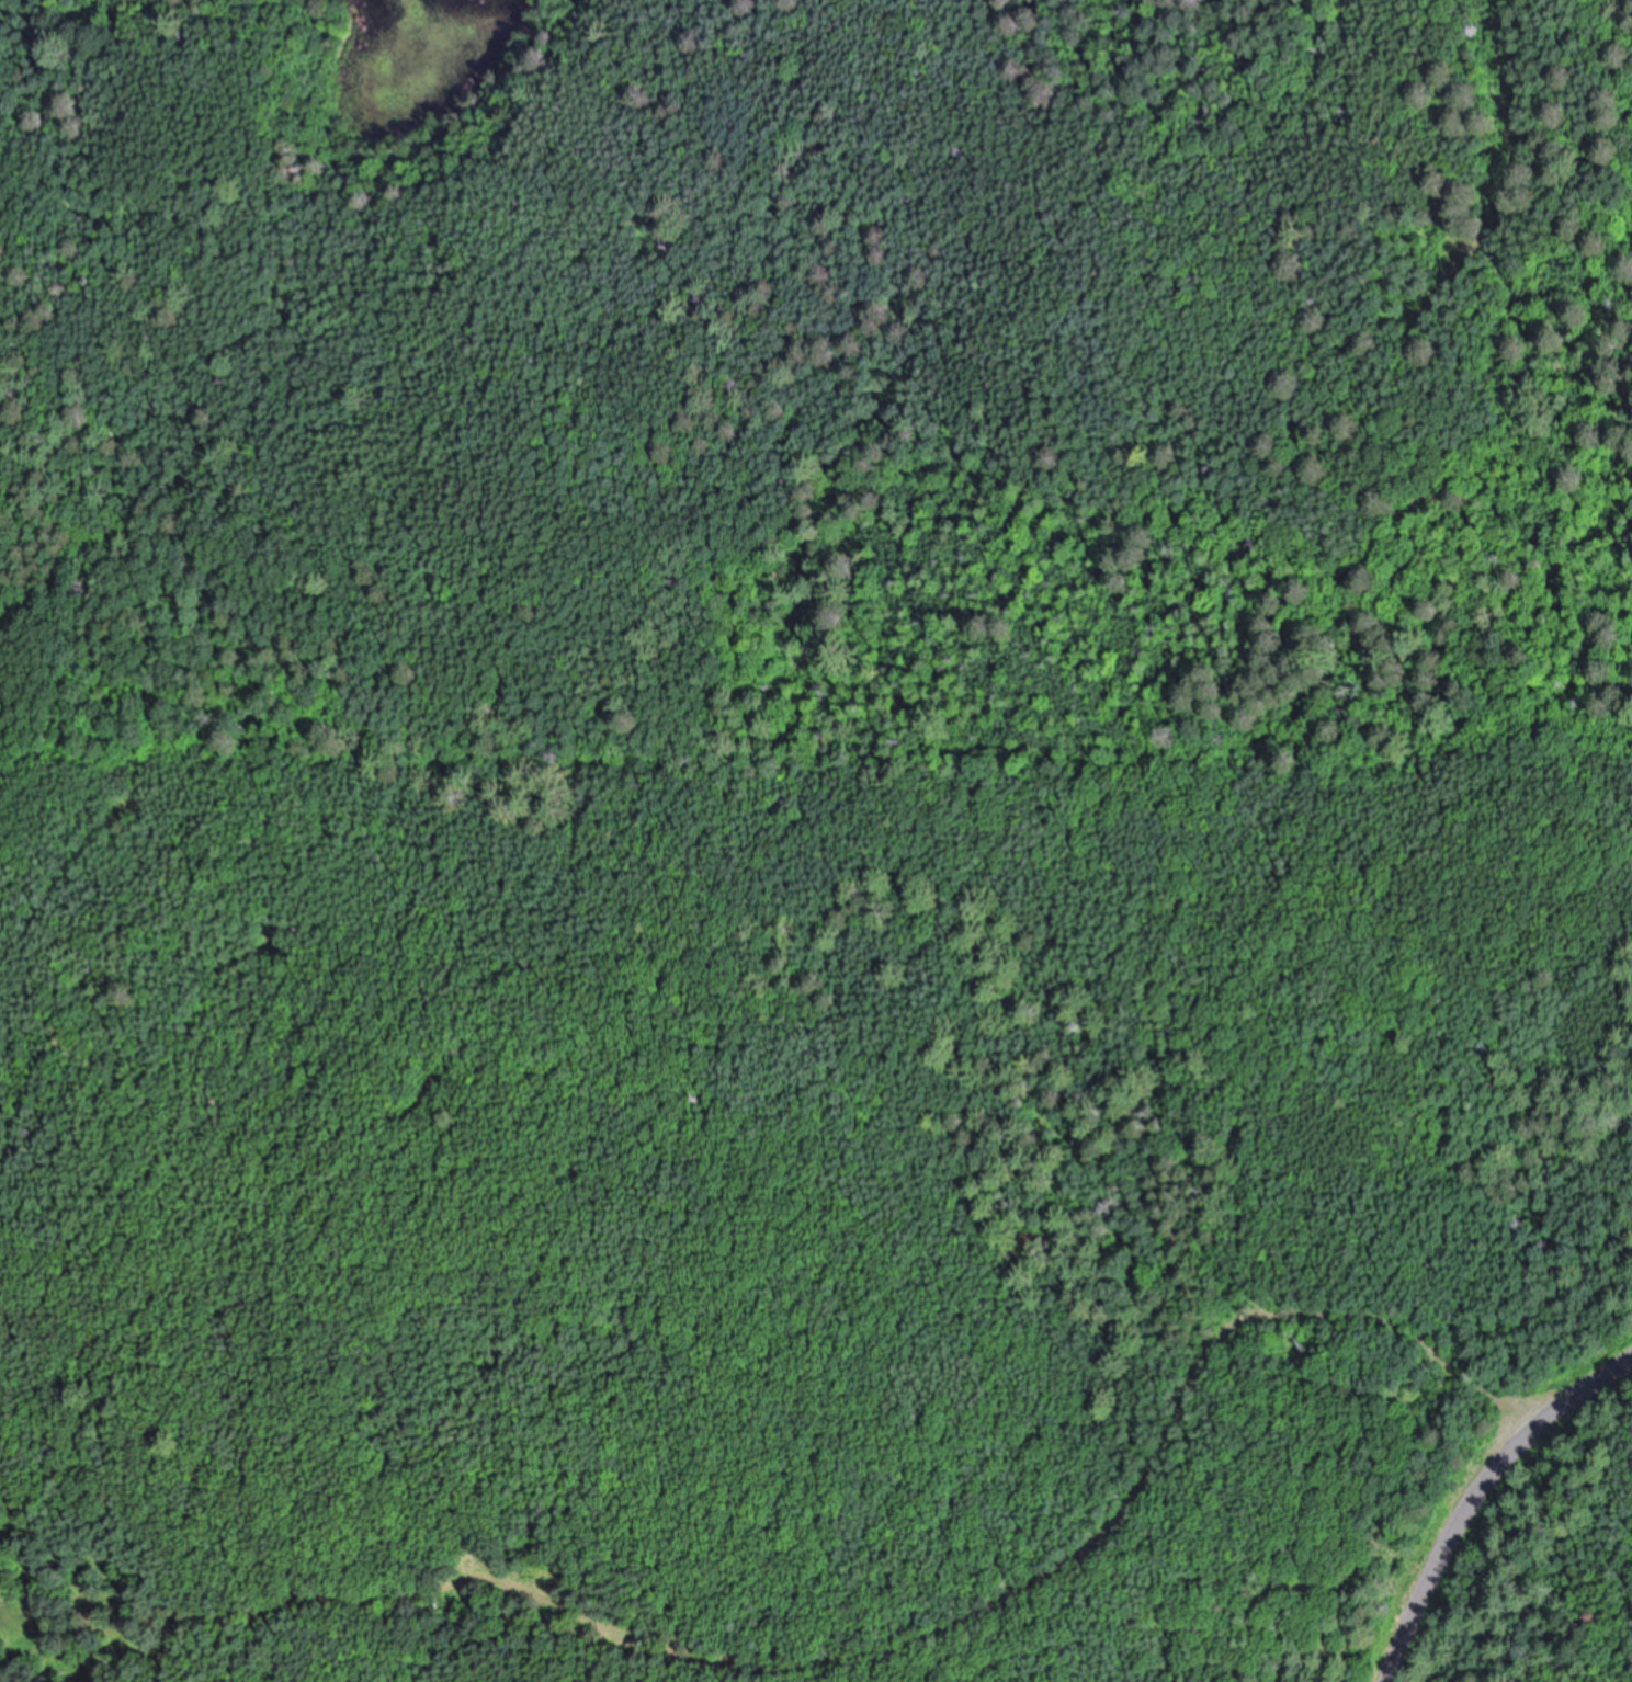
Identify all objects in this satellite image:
road: (1505, 171)
road: (1478, 1492)

